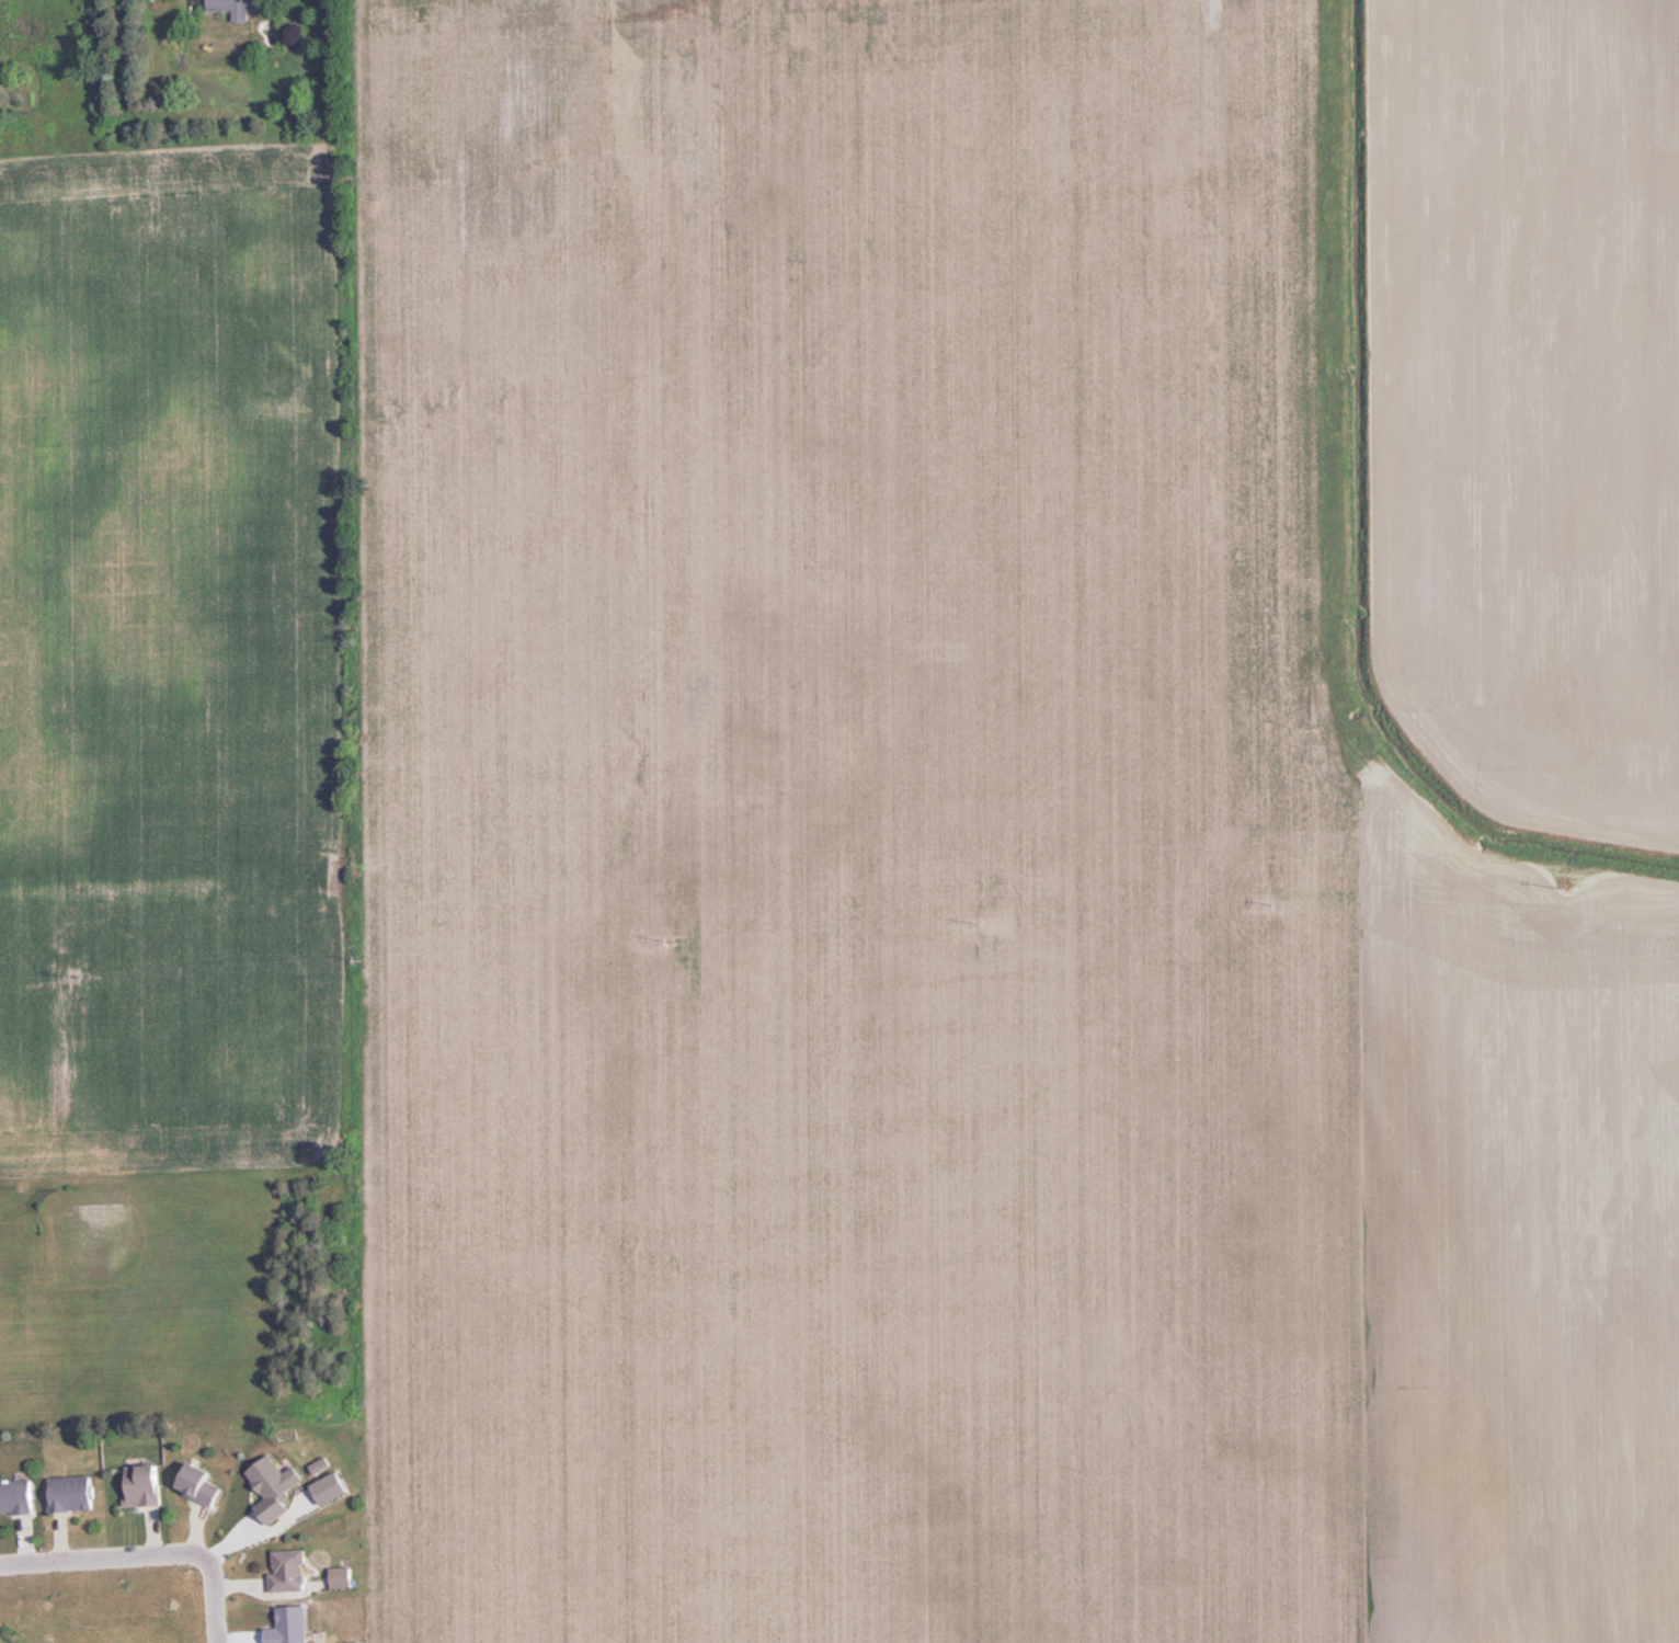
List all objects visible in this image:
building: (238, 8)
building: (201, 1483)
building: (146, 1485)
building: (73, 1493)
building: (18, 1495)
road: (104, 1558)
building: (292, 1570)
building: (344, 1576)
road: (216, 1600)

